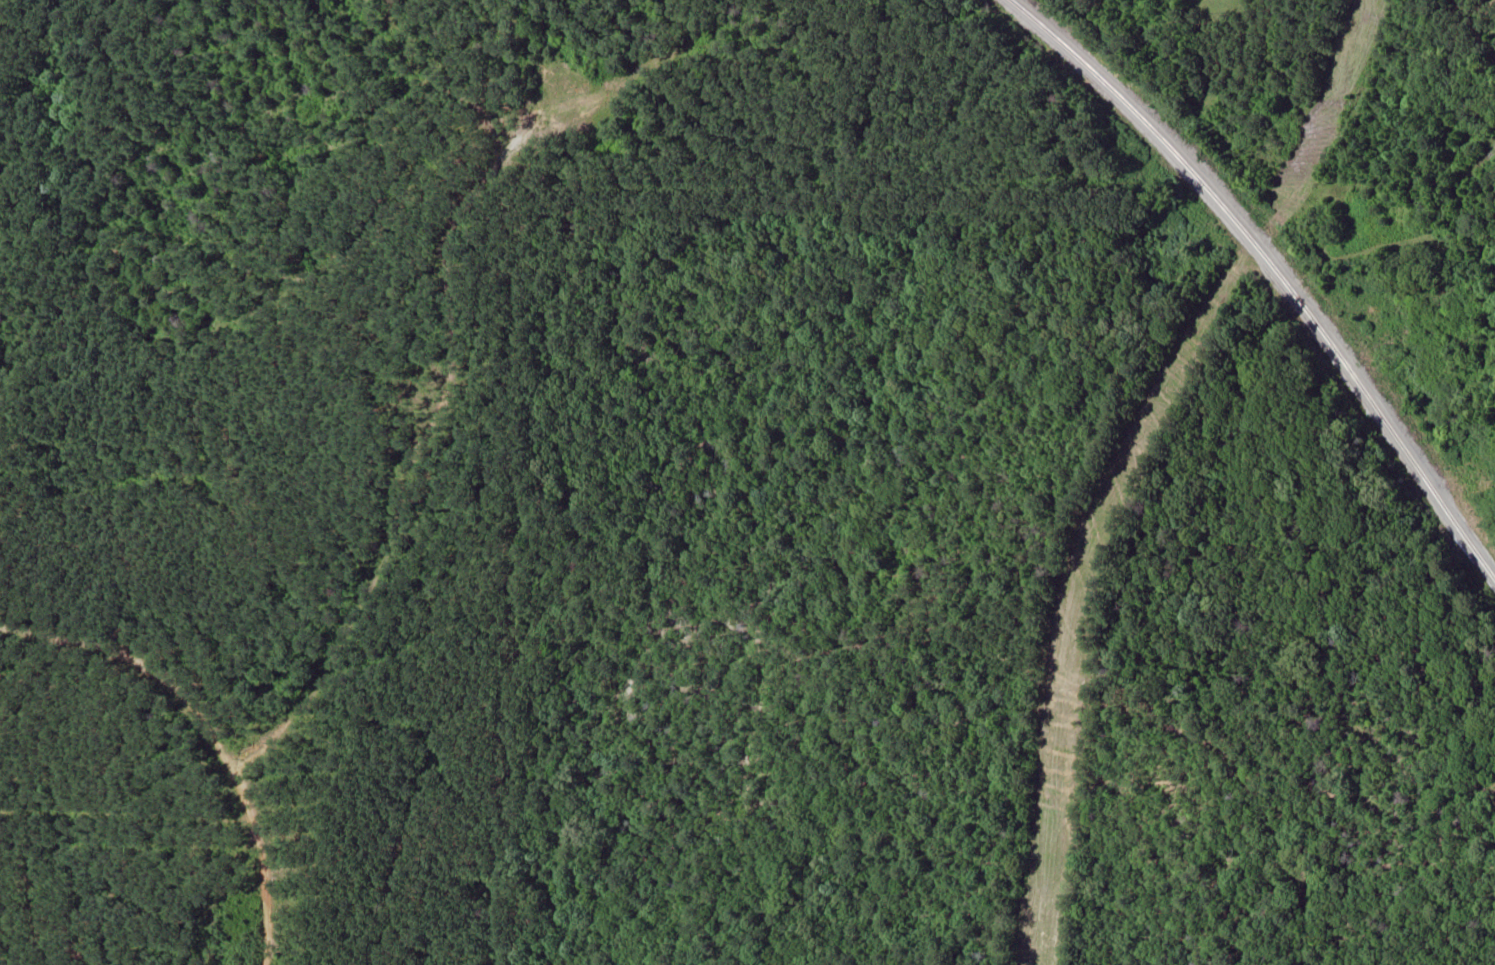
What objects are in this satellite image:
railway: (1277, 269)

